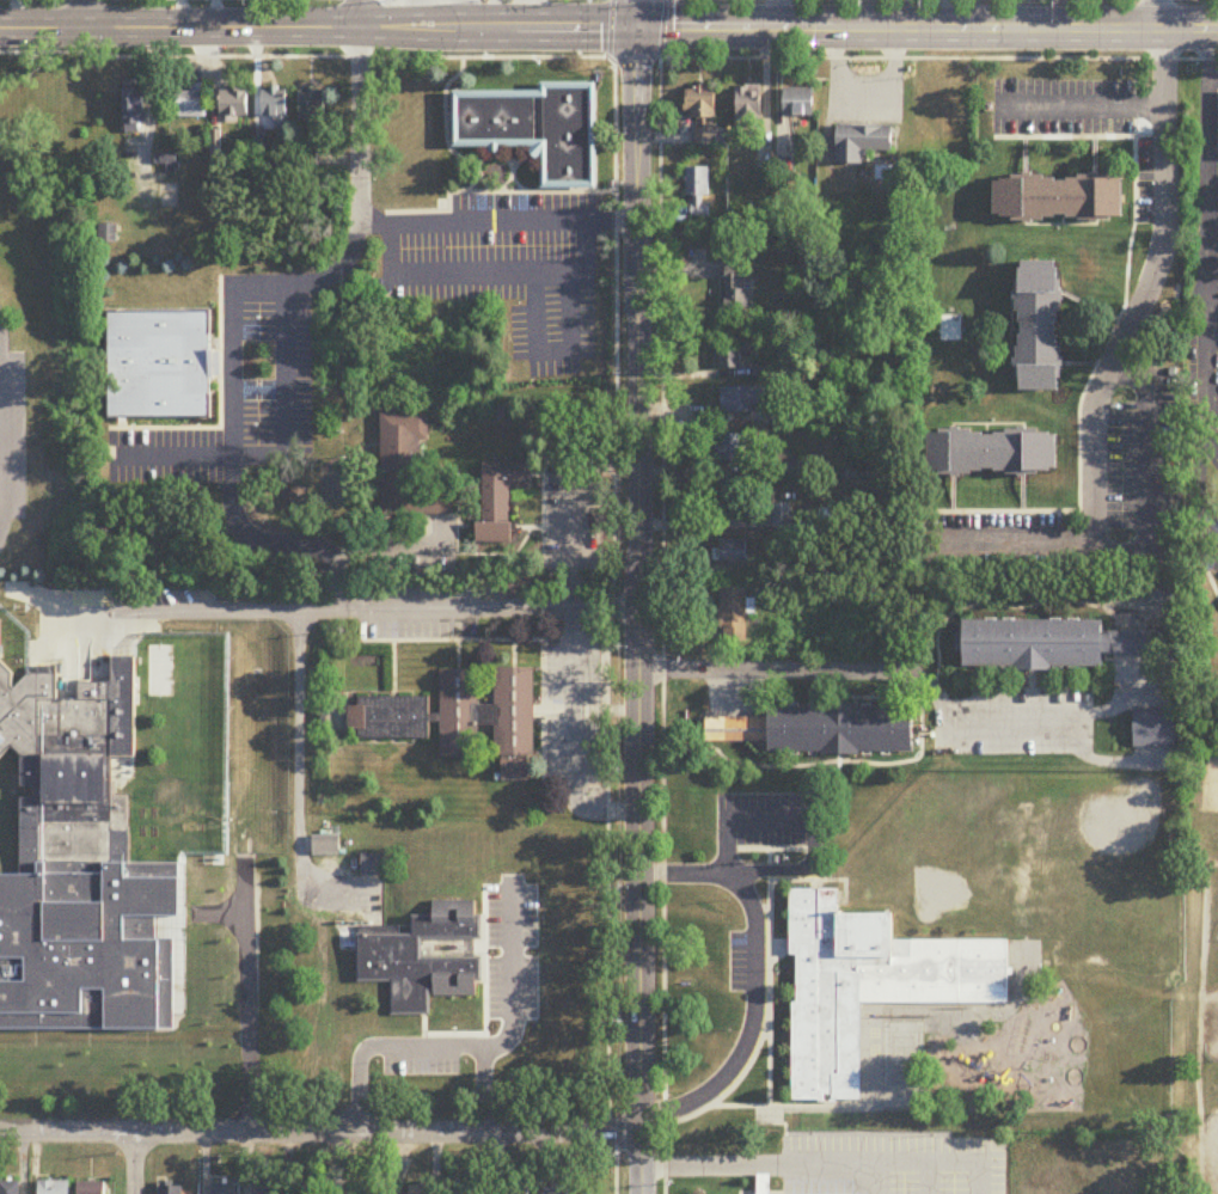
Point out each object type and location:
road: (43, 0)
road: (1081, 0)
road: (412, 14)
road: (469, 14)
road: (638, 14)
road: (778, 14)
road: (943, 14)
road: (1156, 14)
road: (86, 16)
road: (360, 16)
road: (928, 29)
traffic signals: (638, 30)
road: (319, 31)
road: (607, 59)
building: (800, 102)
building: (191, 103)
building: (234, 103)
building: (702, 103)
building: (312, 104)
building: (276, 105)
building: (749, 105)
building: (134, 109)
road: (1077, 109)
building: (496, 117)
building: (570, 134)
road: (1077, 137)
building: (862, 142)
road: (1207, 179)
building: (698, 191)
road: (489, 192)
building: (1060, 196)
road: (497, 225)
building: (108, 233)
road: (489, 277)
road: (1143, 288)
building: (735, 290)
road: (233, 310)
building: (1040, 325)
road: (1213, 333)
road: (552, 353)
building: (732, 355)
building: (159, 365)
road: (1095, 366)
road: (1206, 367)
building: (743, 399)
road: (1201, 400)
road: (220, 409)
building: (785, 417)
road: (121, 436)
building: (732, 447)
building: (994, 452)
road: (279, 457)
road: (1196, 466)
building: (787, 467)
building: (408, 470)
building: (500, 498)
building: (729, 507)
building: (781, 518)
road: (704, 523)
road: (1139, 544)
road: (390, 545)
building: (733, 551)
road: (606, 595)
building: (1165, 595)
road: (661, 596)
road: (349, 612)
road: (641, 612)
building: (734, 614)
building: (1048, 644)
road: (870, 671)
road: (574, 687)
building: (514, 714)
building: (458, 715)
building: (388, 718)
building: (1155, 729)
building: (820, 730)
building: (516, 772)
road: (299, 774)
building: (84, 843)
building: (325, 846)
building: (372, 865)
road: (251, 878)
building: (423, 960)
road: (216, 967)
road: (757, 979)
road: (515, 984)
building: (869, 986)
road: (103, 1043)
road: (420, 1047)
road: (318, 1131)
road: (135, 1163)
road: (810, 1167)
road: (876, 1180)
road: (928, 1180)
road: (979, 1180)
building: (764, 1184)
building: (8, 1188)
building: (54, 1188)
building: (91, 1188)
building: (222, 1189)
building: (305, 1189)
building: (418, 1189)
building: (170, 1190)
building: (265, 1190)
building: (359, 1190)
building: (469, 1190)
building: (519, 1190)
building: (555, 1190)

